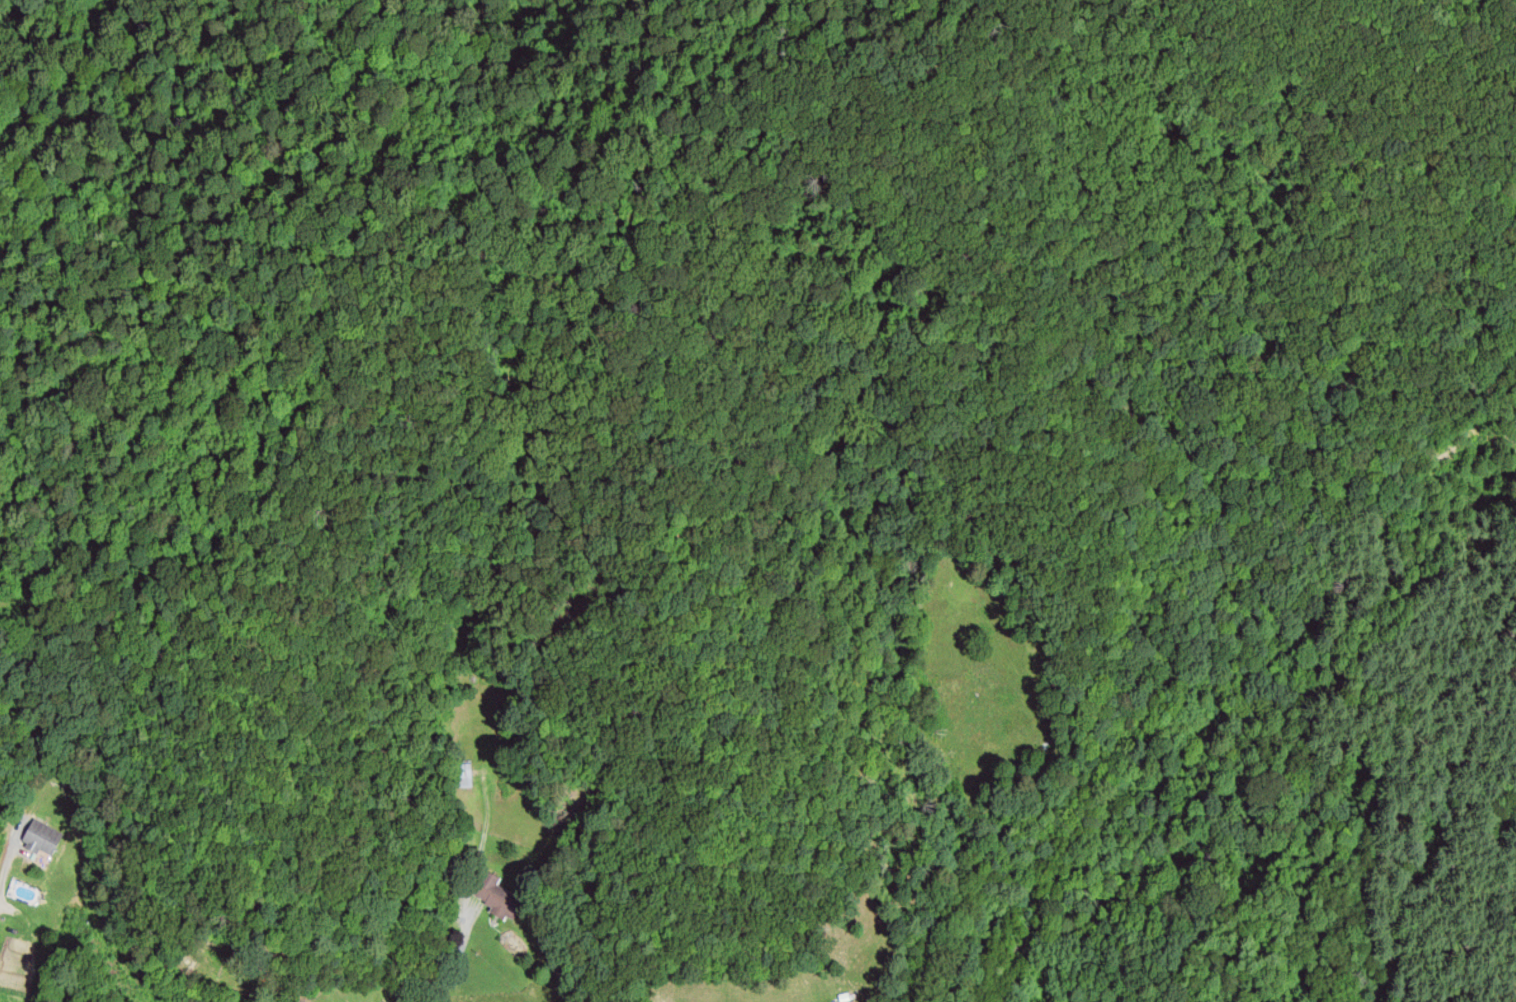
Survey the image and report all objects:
building: (1044, 748)
building: (42, 839)
building: (497, 897)

